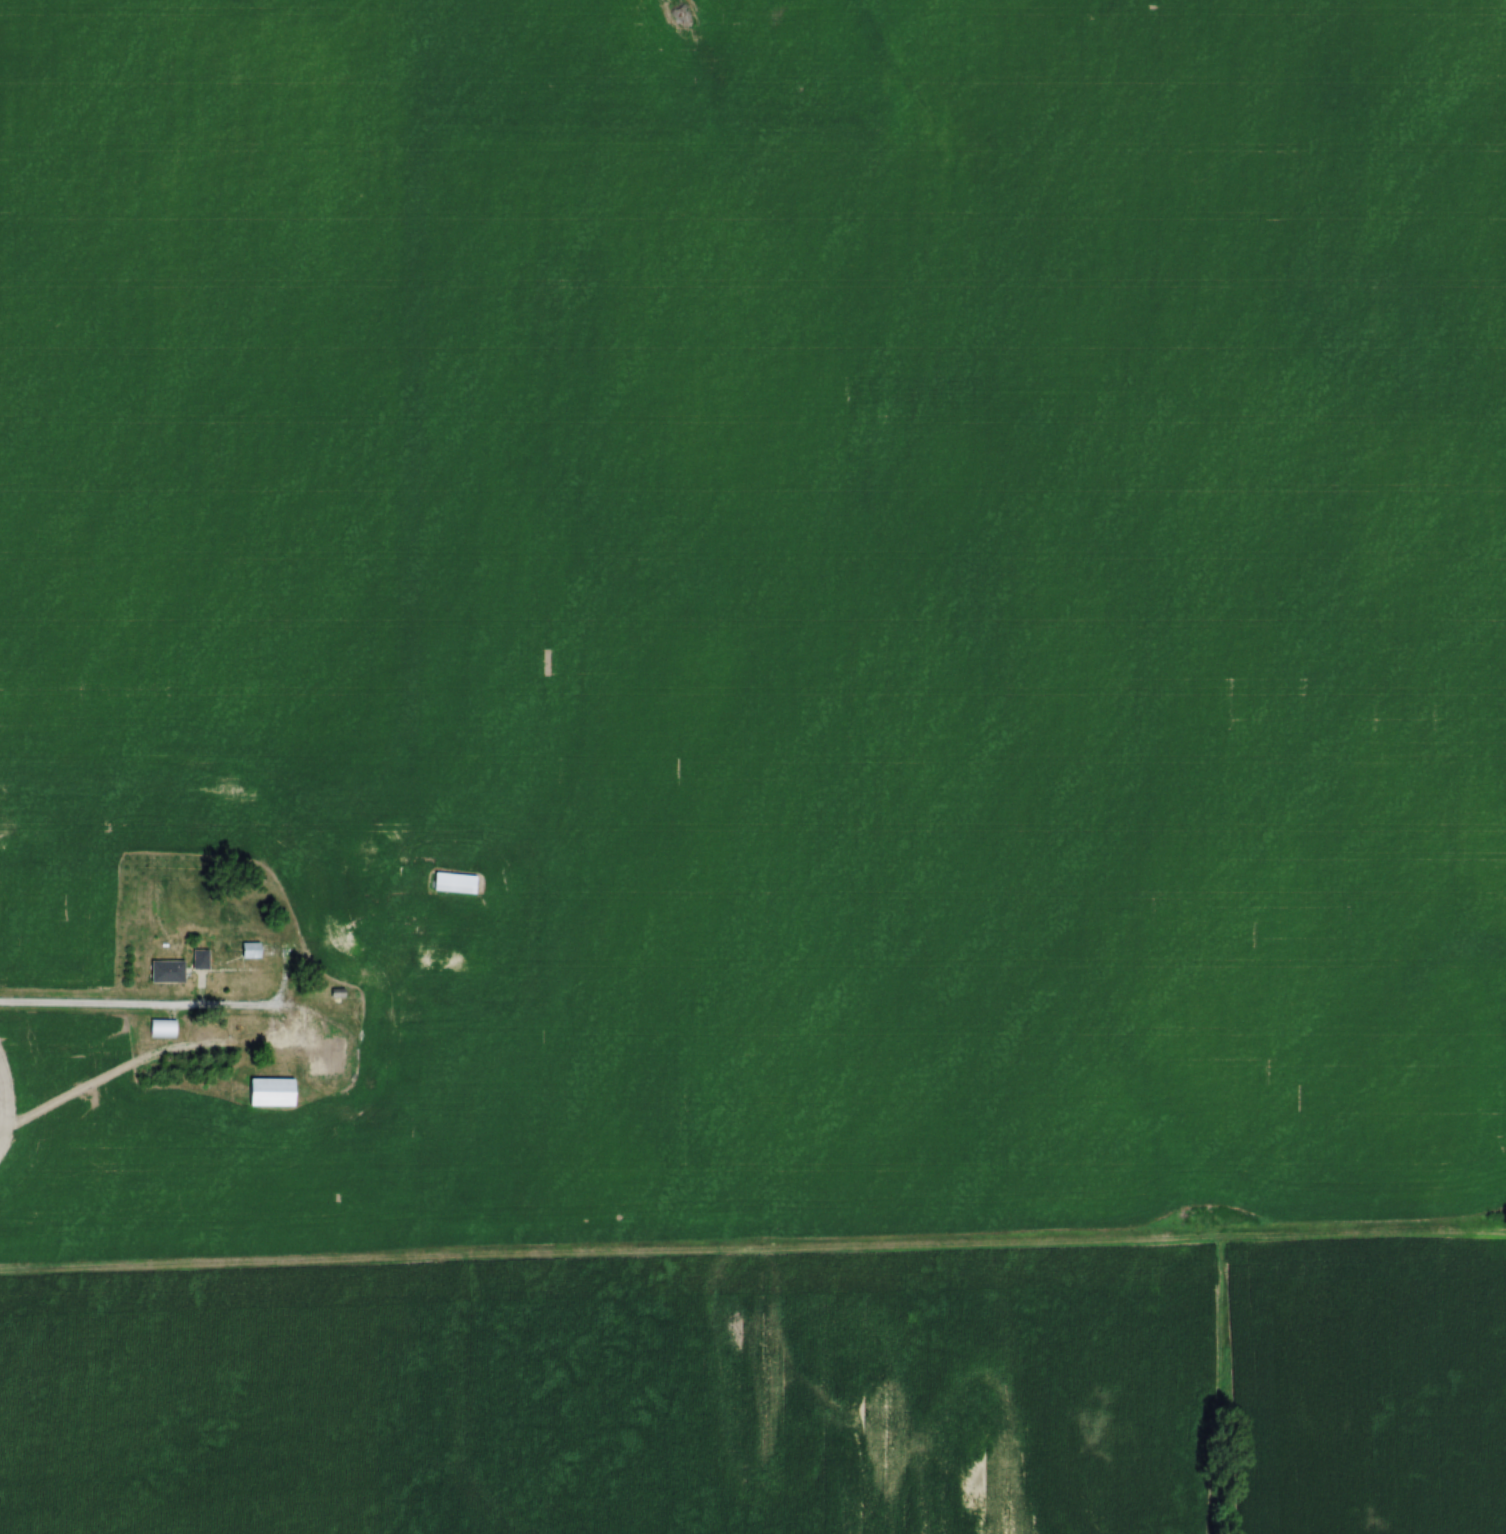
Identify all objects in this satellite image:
building: (454, 882)
building: (305, 949)
building: (250, 950)
building: (199, 959)
building: (165, 971)
road: (165, 1009)
building: (365, 1010)
building: (164, 1029)
building: (390, 1046)
building: (327, 1055)
building: (270, 1091)

